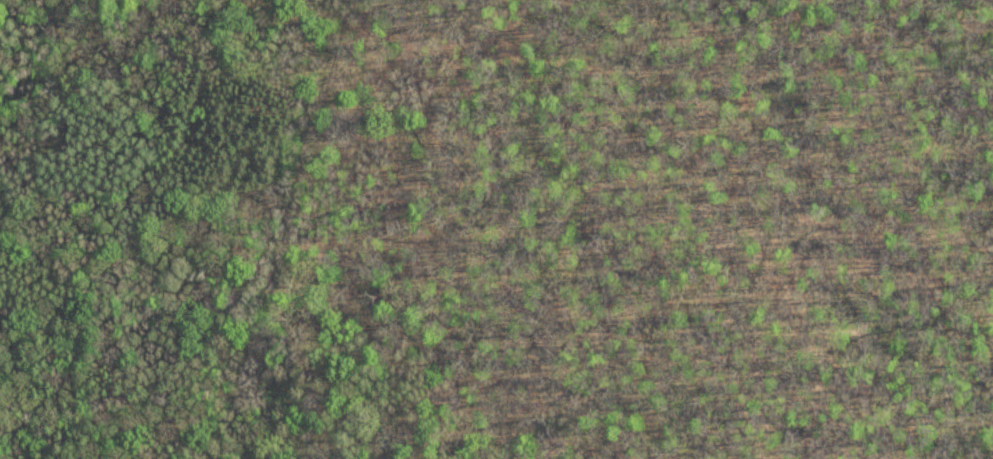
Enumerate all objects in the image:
road: (297, 209)
park: (496, 229)

